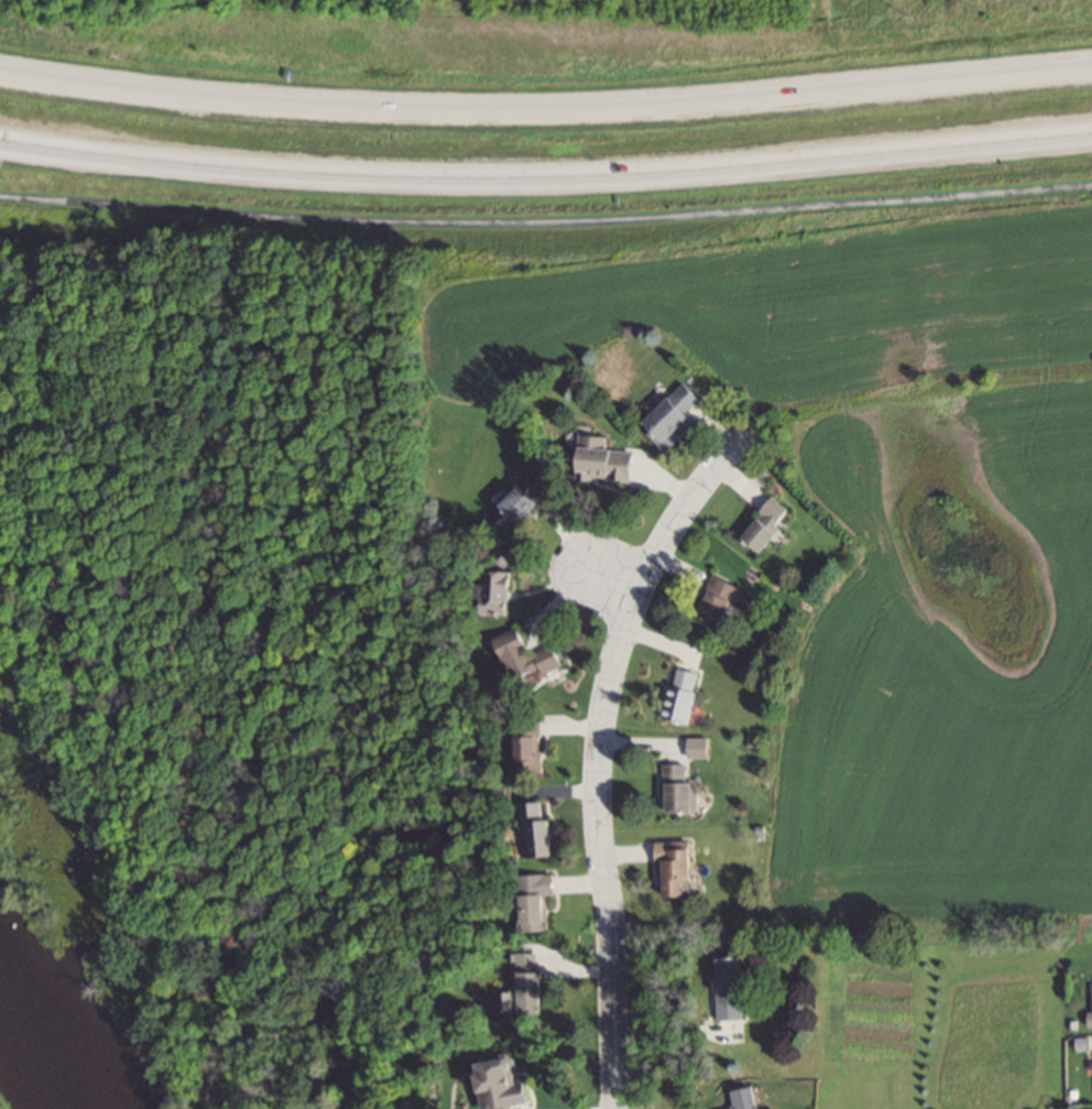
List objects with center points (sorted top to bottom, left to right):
road: (546, 106)
road: (546, 176)
road: (546, 219)
building: (674, 415)
building: (604, 457)
building: (521, 498)
building: (767, 524)
crop: (878, 530)
road: (610, 576)
building: (499, 590)
building: (723, 597)
building: (527, 655)
building: (681, 694)
building: (533, 743)
road: (598, 748)
building: (679, 789)
building: (537, 830)
building: (678, 866)
building: (536, 900)
building: (533, 982)
building: (731, 987)
building: (512, 1000)
river: (37, 1031)
building: (507, 1083)
building: (746, 1098)
park: (0, 1108)

